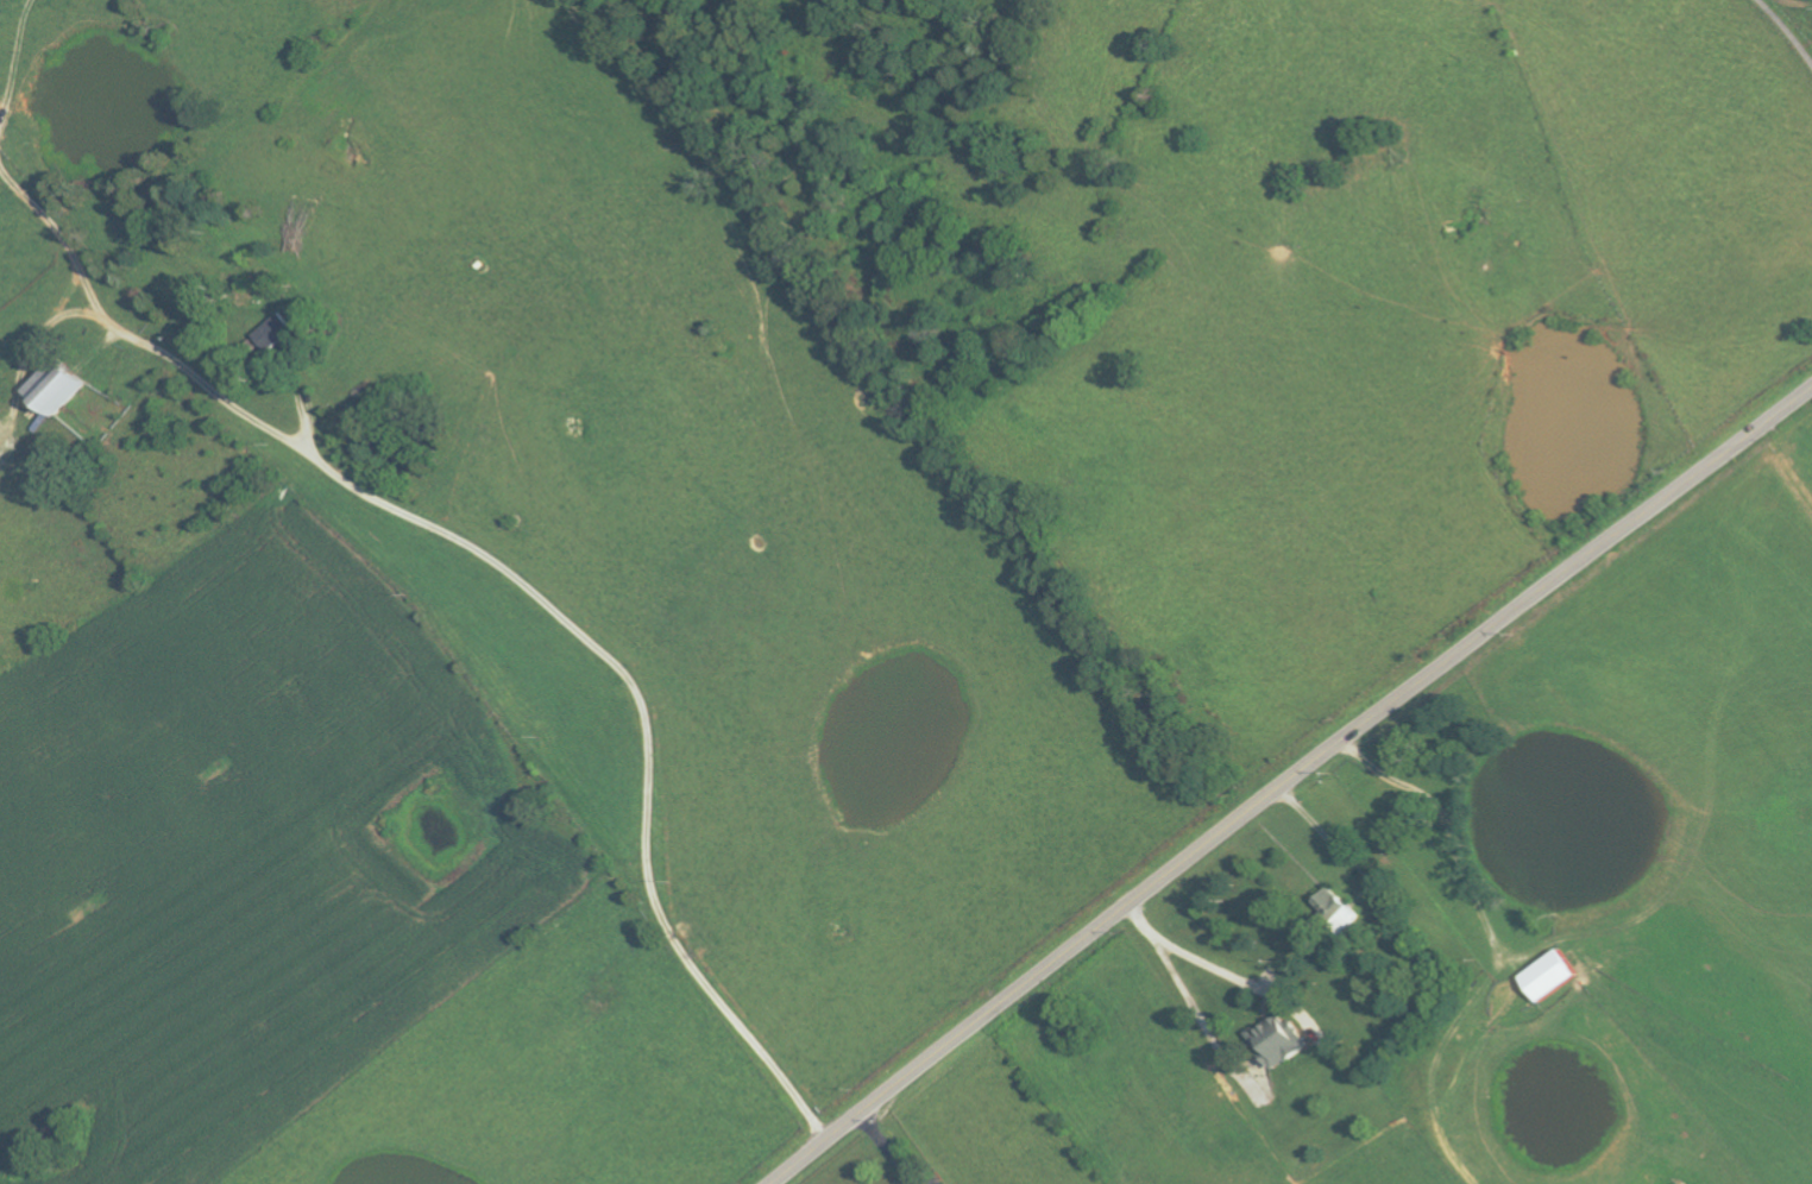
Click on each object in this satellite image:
road: (1788, 29)
building: (276, 330)
building: (54, 390)
road: (508, 603)
road: (1290, 782)
road: (1197, 961)
building: (1549, 976)
building: (1277, 1041)

